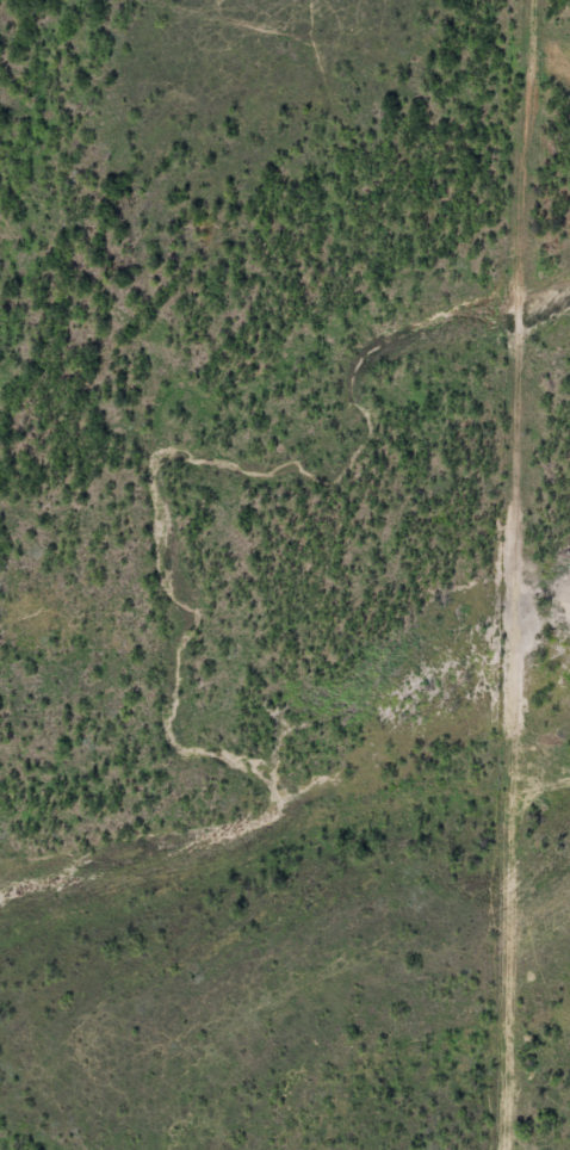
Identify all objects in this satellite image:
road: (283, 824)

